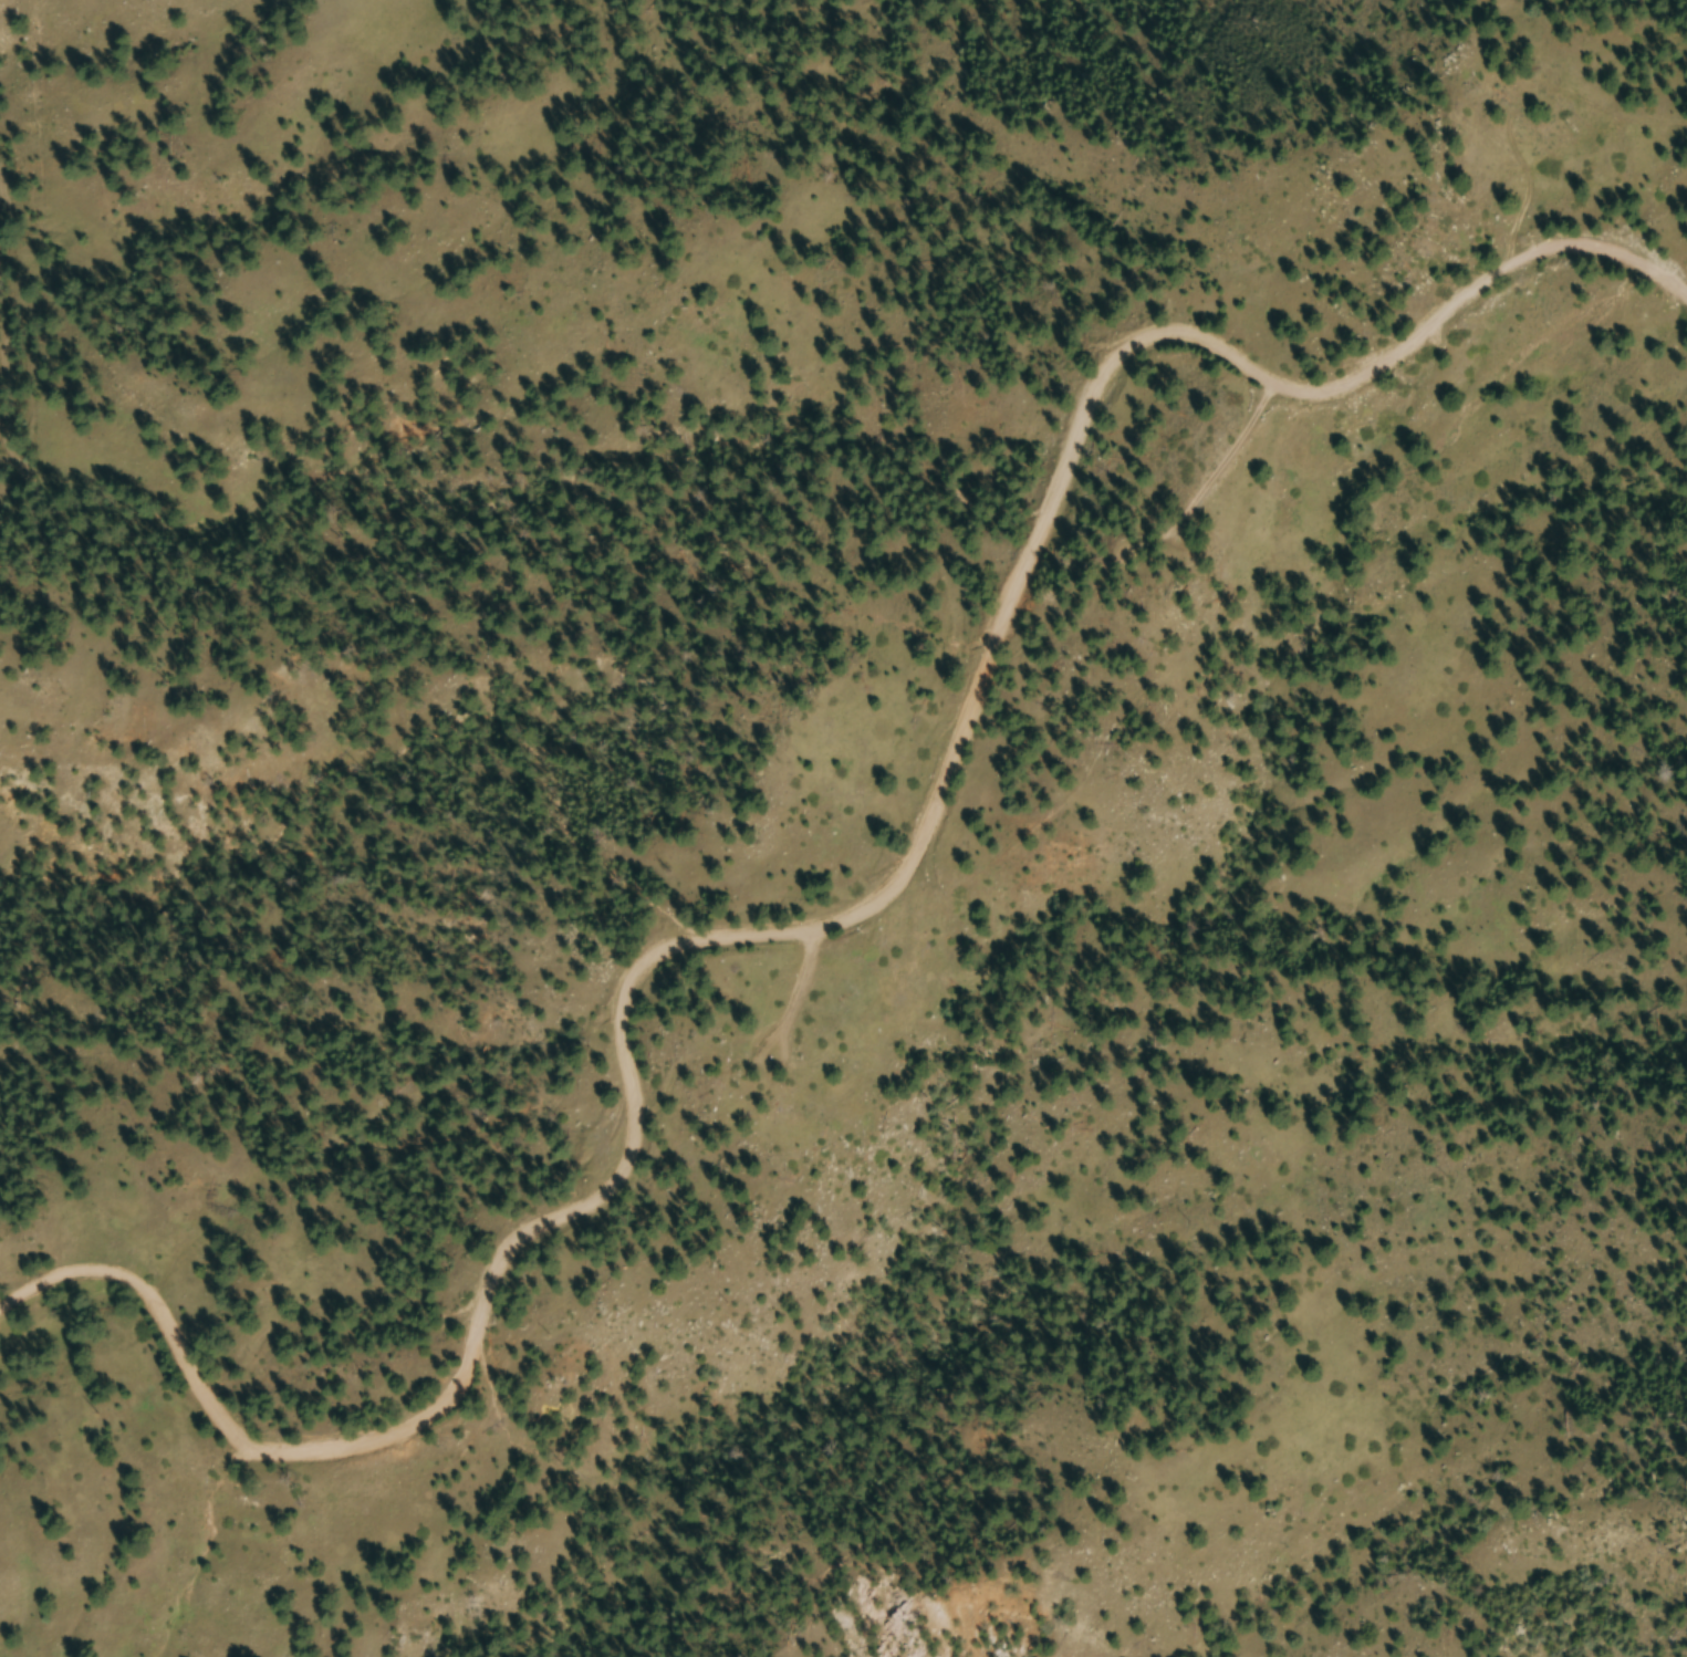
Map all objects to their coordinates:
road: (832, 921)

